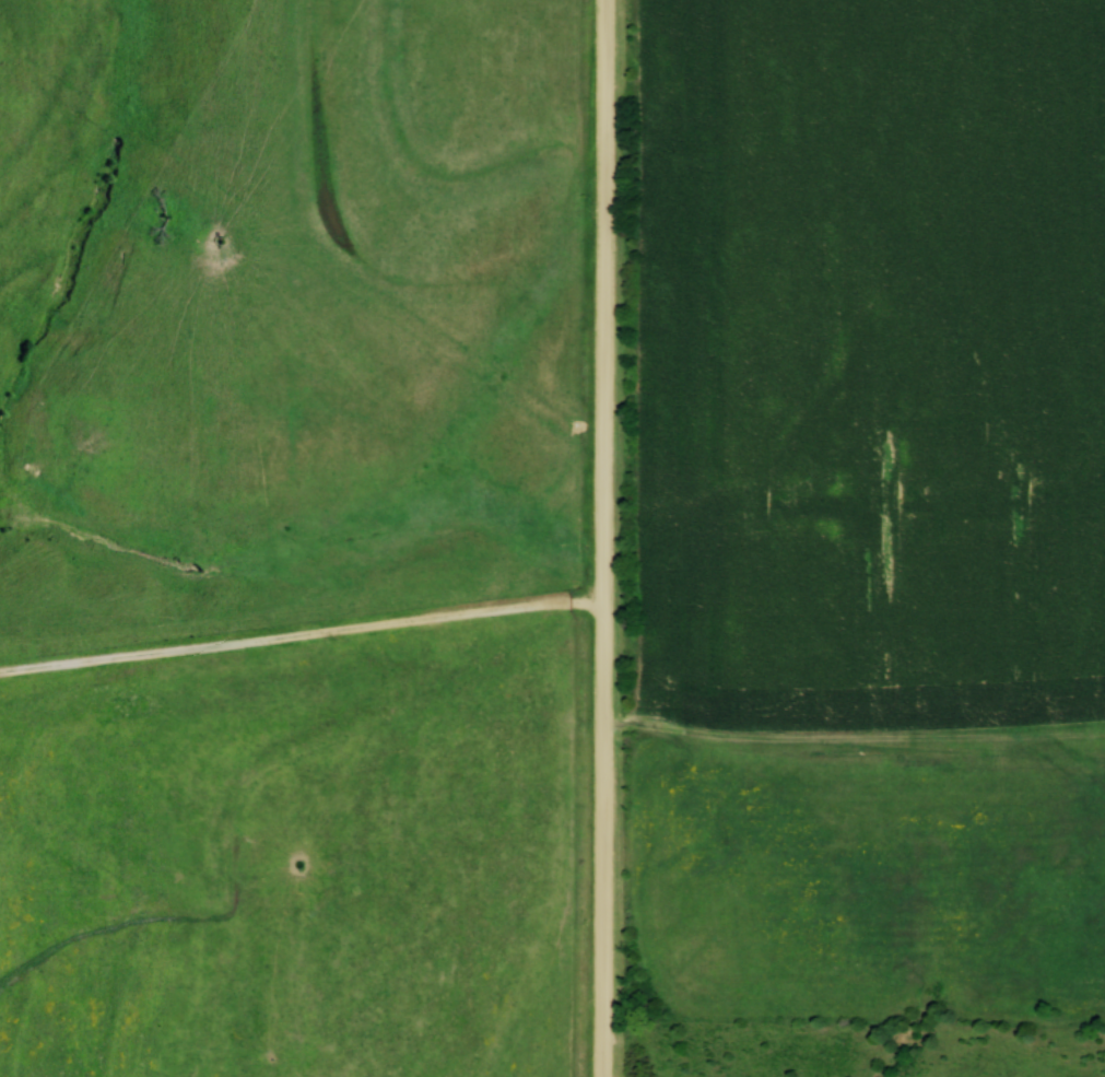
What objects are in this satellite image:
road: (600, 538)
road: (301, 637)

